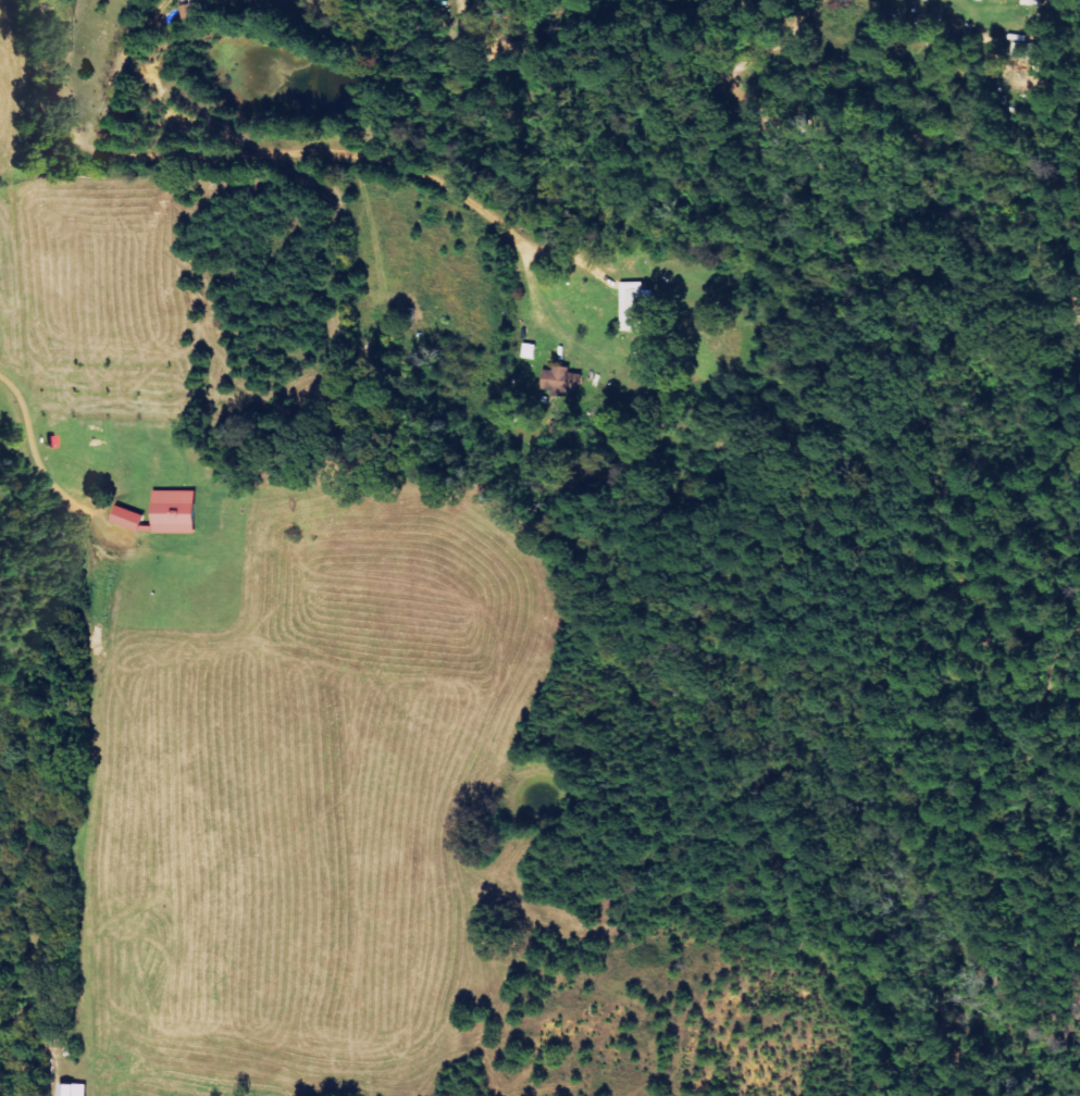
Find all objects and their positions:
building: (1022, 2)
road: (479, 57)
road: (301, 112)
building: (632, 306)
building: (526, 351)
building: (557, 382)
building: (171, 512)
building: (124, 519)
building: (69, 1091)

